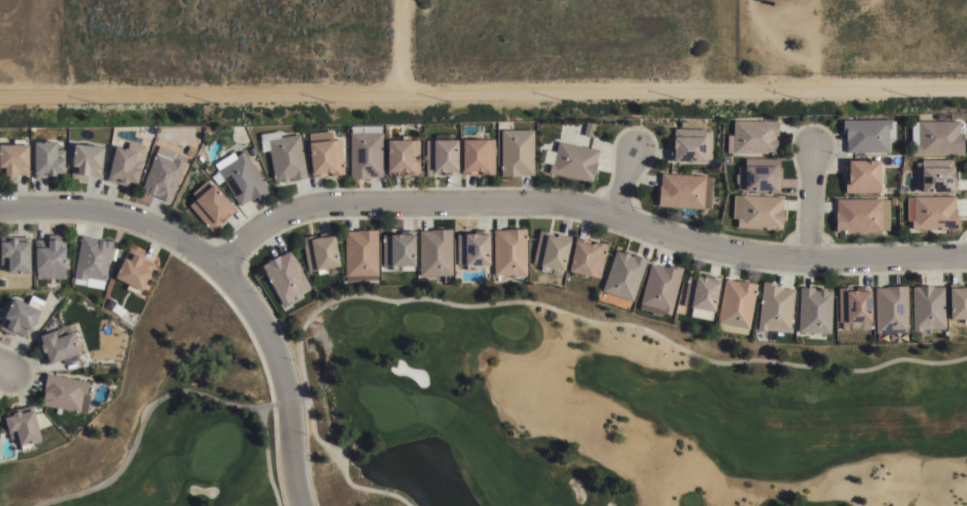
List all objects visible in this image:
building: (768, 0)
road: (397, 44)
road: (483, 88)
building: (867, 134)
building: (934, 134)
building: (752, 136)
building: (690, 144)
building: (191, 150)
building: (365, 151)
building: (517, 152)
building: (324, 153)
building: (441, 154)
building: (284, 155)
building: (402, 155)
building: (477, 155)
building: (48, 159)
building: (13, 160)
building: (86, 160)
building: (573, 160)
building: (124, 166)
building: (164, 173)
building: (758, 173)
building: (861, 175)
building: (936, 175)
building: (240, 176)
road: (621, 183)
building: (684, 190)
road: (473, 202)
road: (807, 203)
building: (210, 204)
building: (758, 211)
building: (931, 212)
building: (860, 214)
building: (473, 249)
building: (397, 250)
building: (510, 252)
building: (550, 252)
building: (318, 253)
building: (435, 253)
building: (15, 254)
building: (360, 254)
building: (51, 257)
building: (586, 258)
building: (92, 261)
building: (134, 270)
building: (623, 275)
building: (284, 276)
building: (660, 287)
building: (700, 296)
building: (957, 303)
building: (735, 306)
building: (775, 307)
building: (927, 307)
building: (853, 308)
building: (890, 309)
building: (814, 310)
building: (20, 317)
building: (57, 346)
road: (6, 365)
road: (281, 374)
building: (65, 394)
park: (609, 413)
park: (170, 416)
building: (23, 428)

